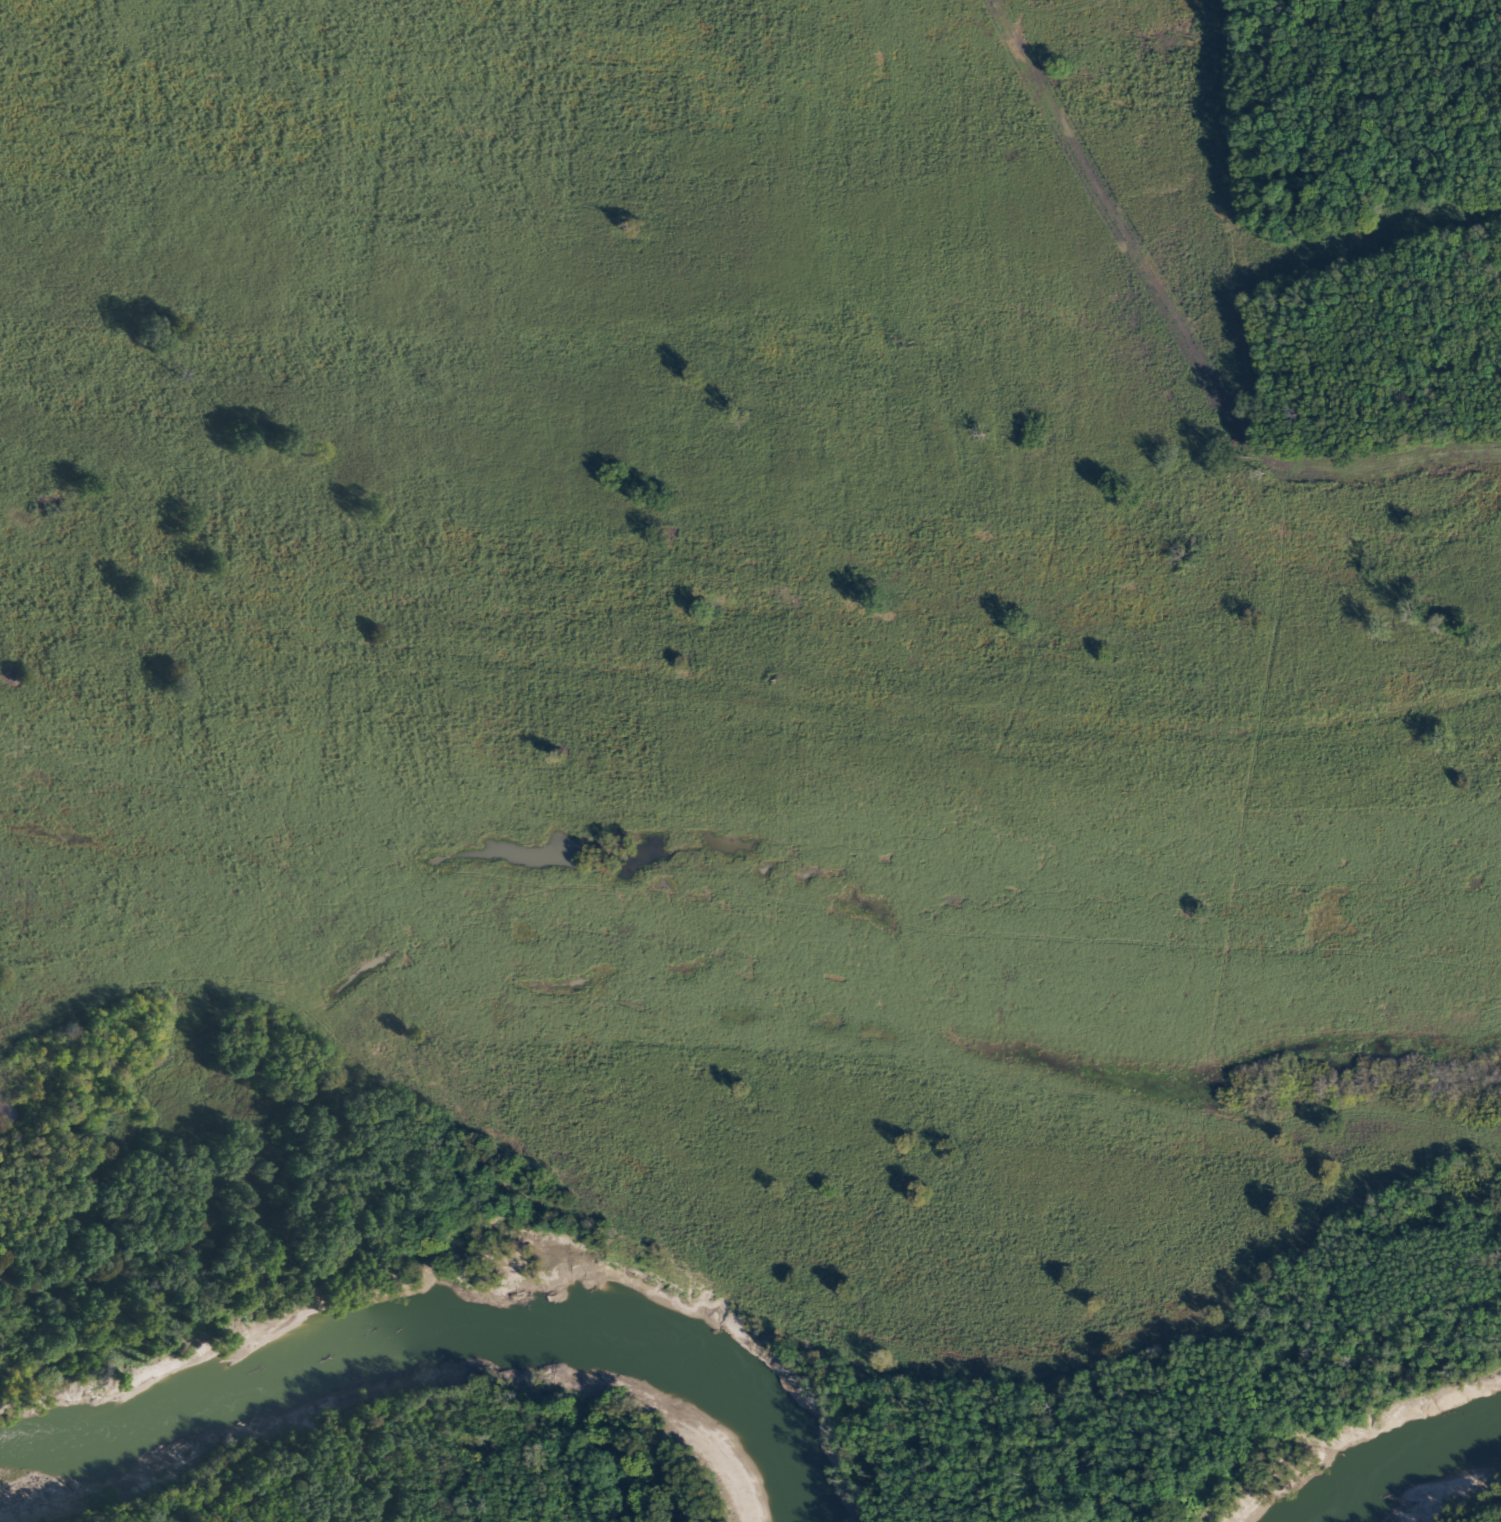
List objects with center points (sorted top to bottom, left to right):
river: (416, 1309)
river: (1386, 1475)
road: (181, 1480)

